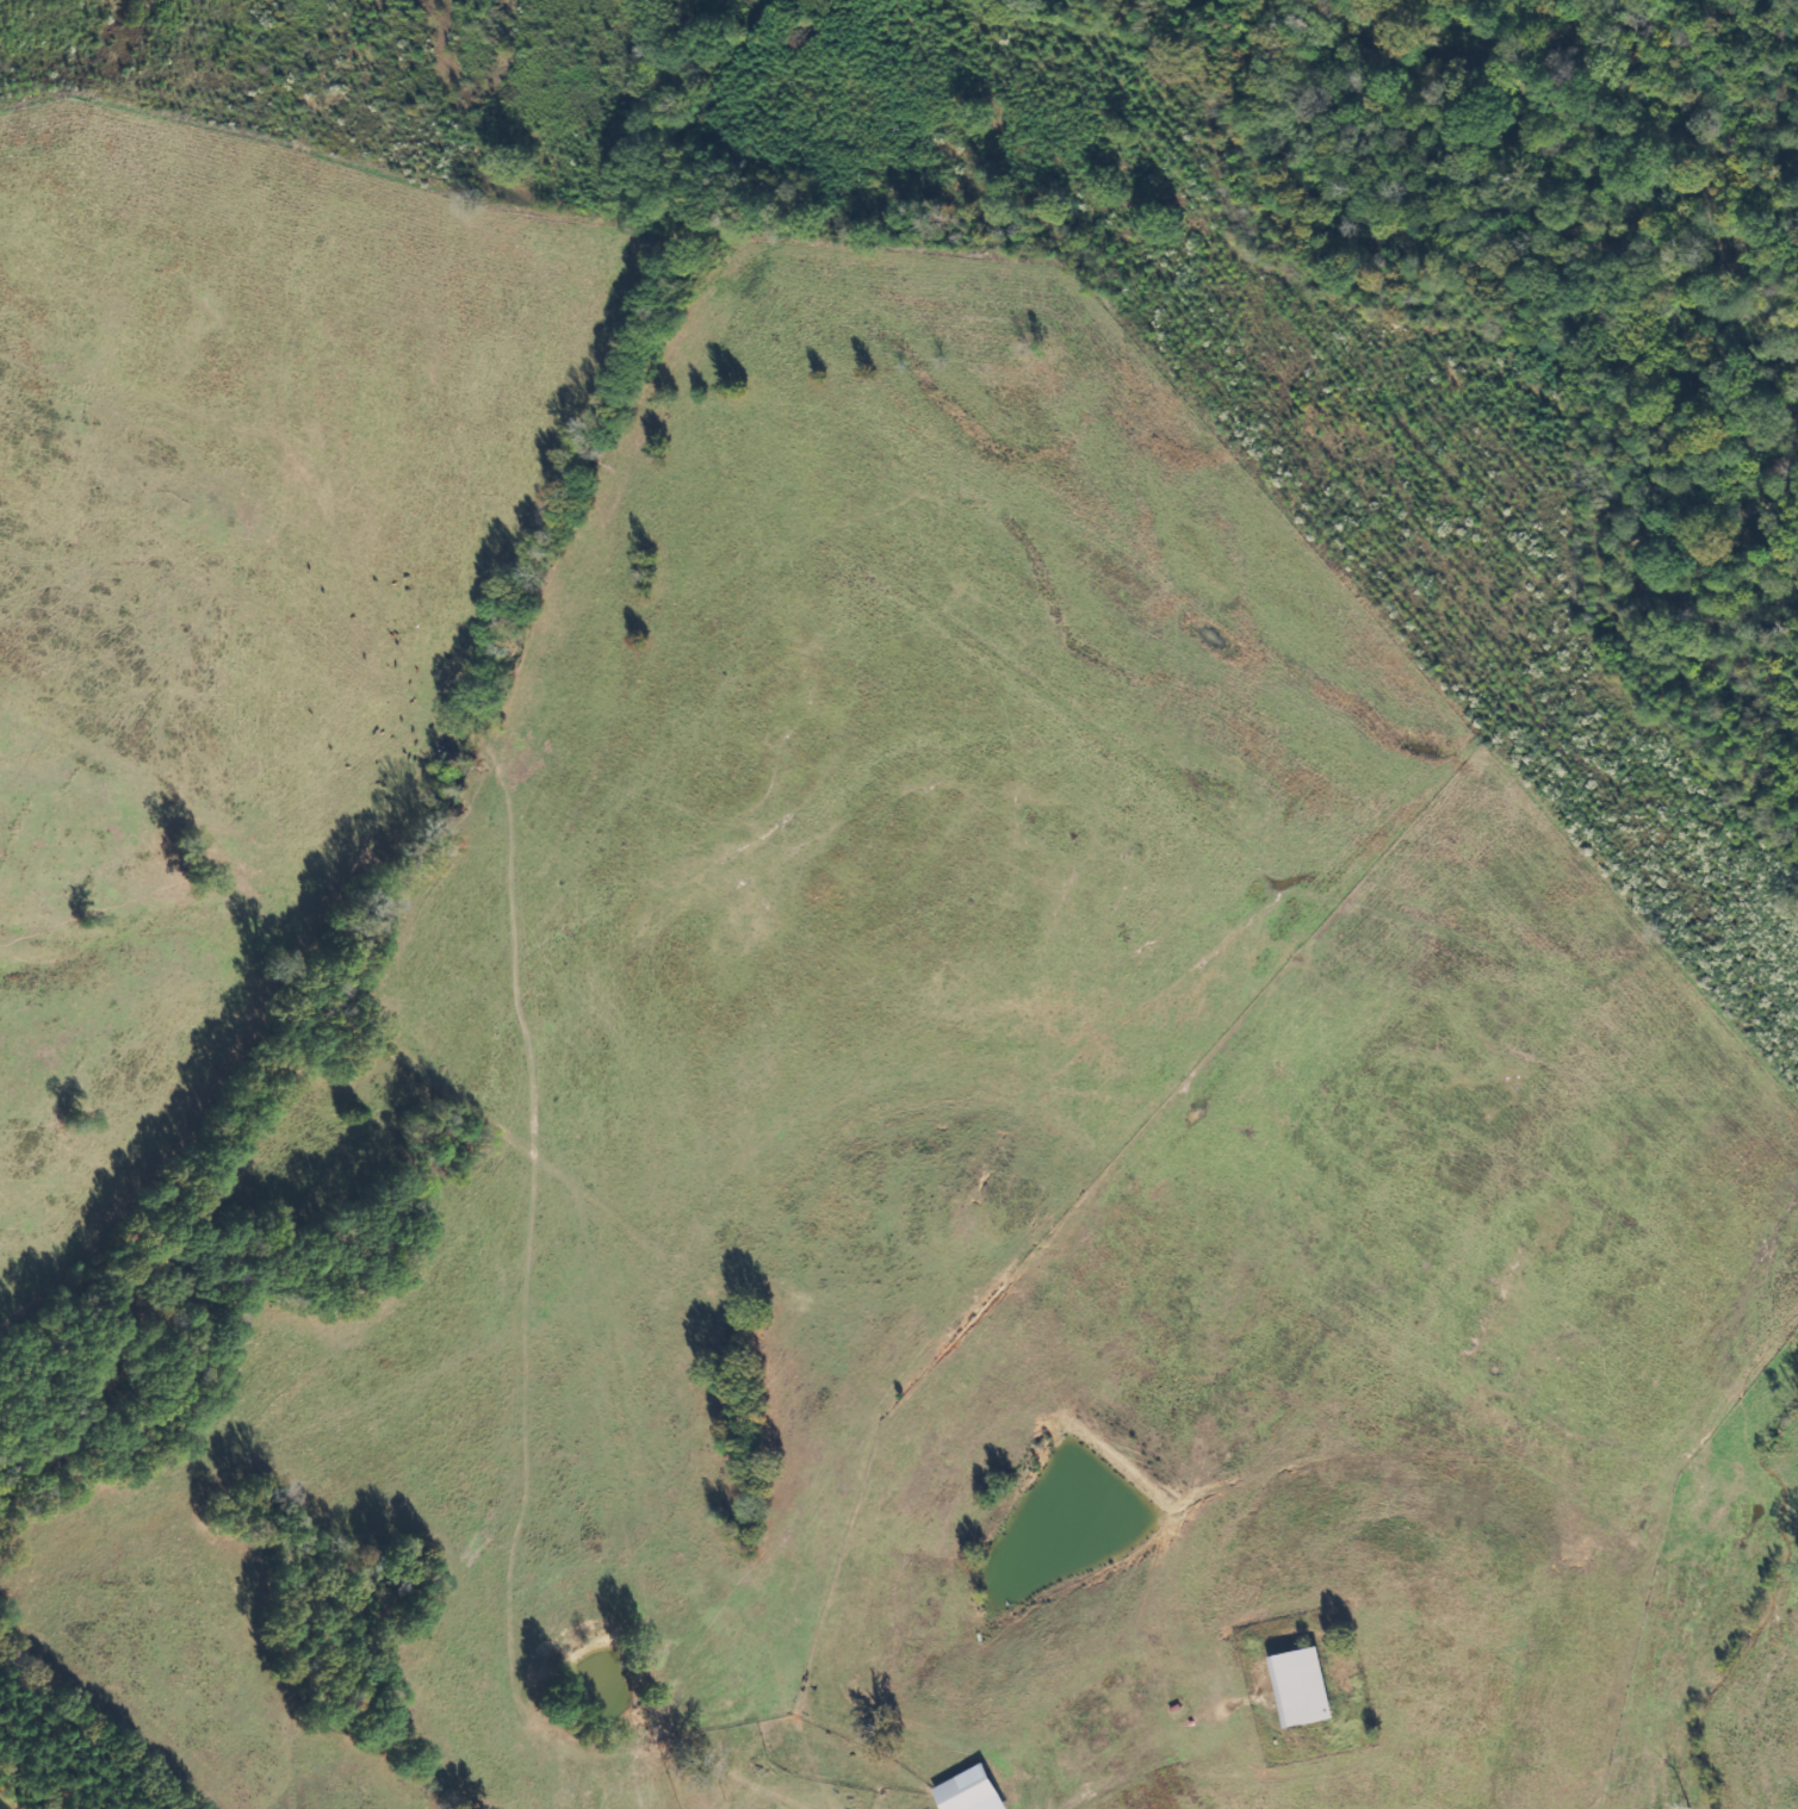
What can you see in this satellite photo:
building: (968, 1791)

